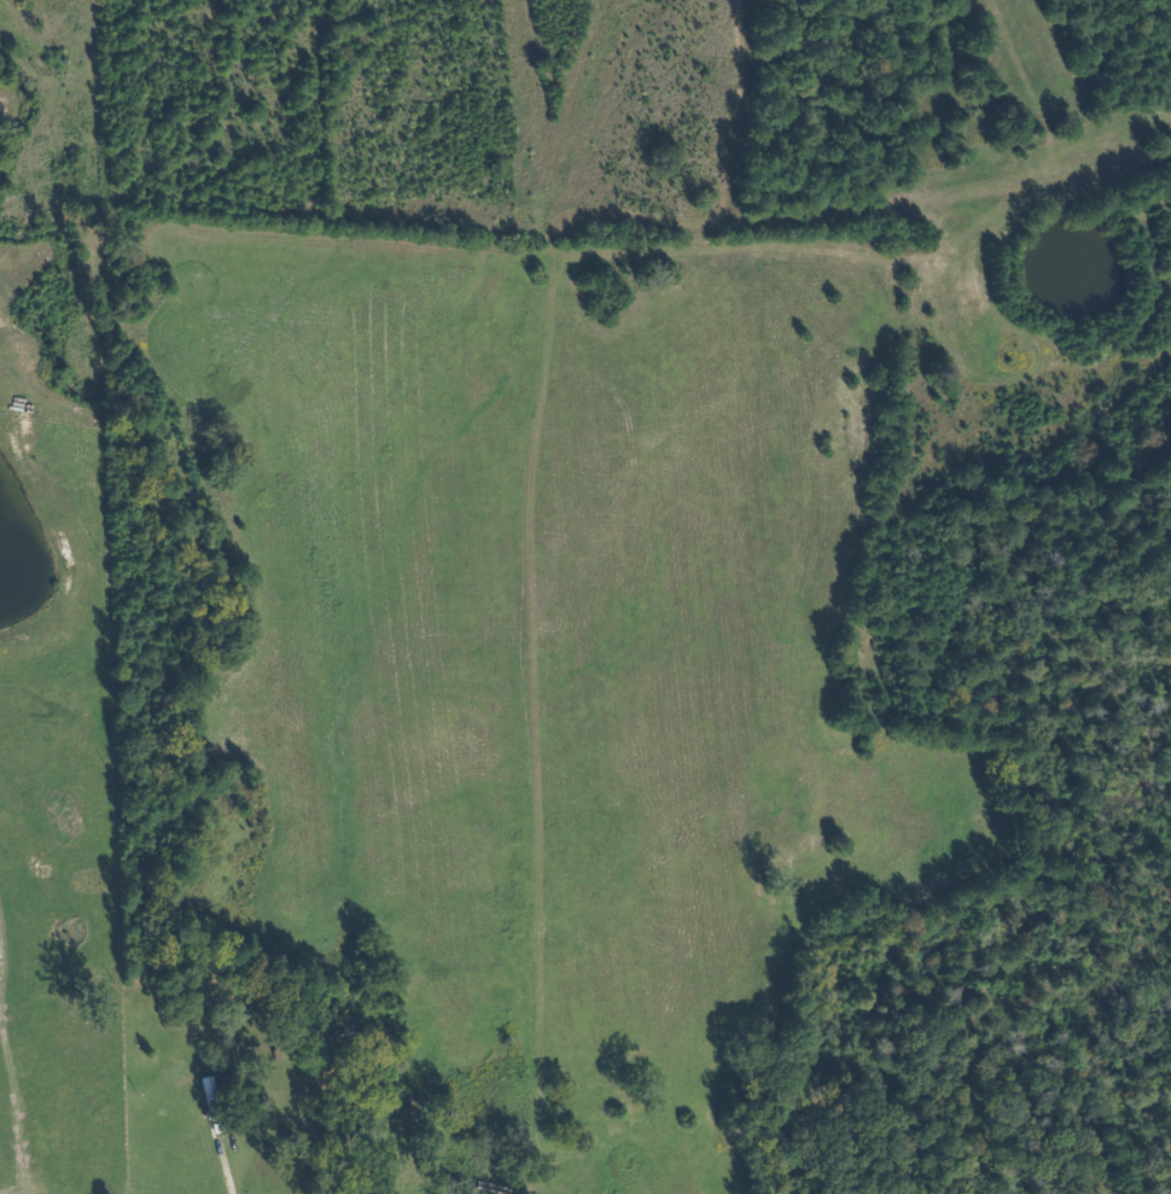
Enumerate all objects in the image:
building: (210, 1103)
building: (45, 1136)

